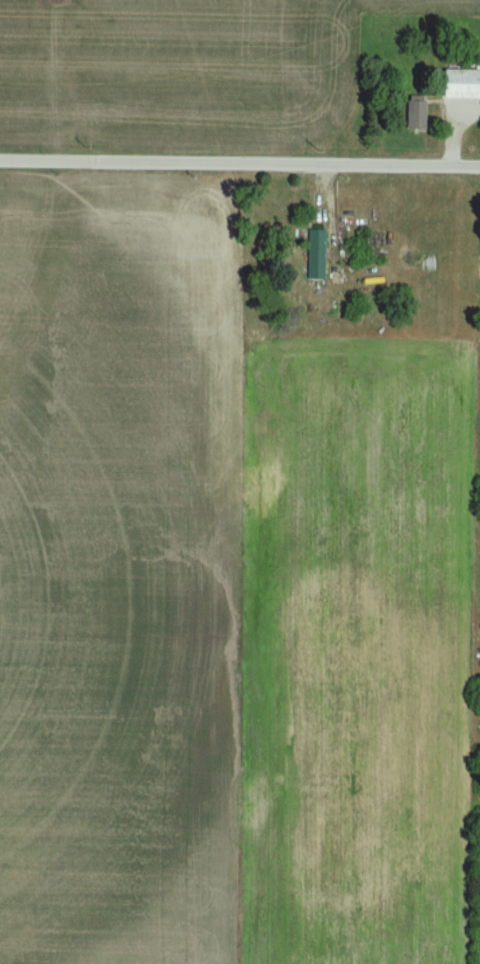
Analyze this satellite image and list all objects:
building: (465, 85)
building: (421, 113)
road: (446, 136)
road: (240, 163)
building: (321, 263)

